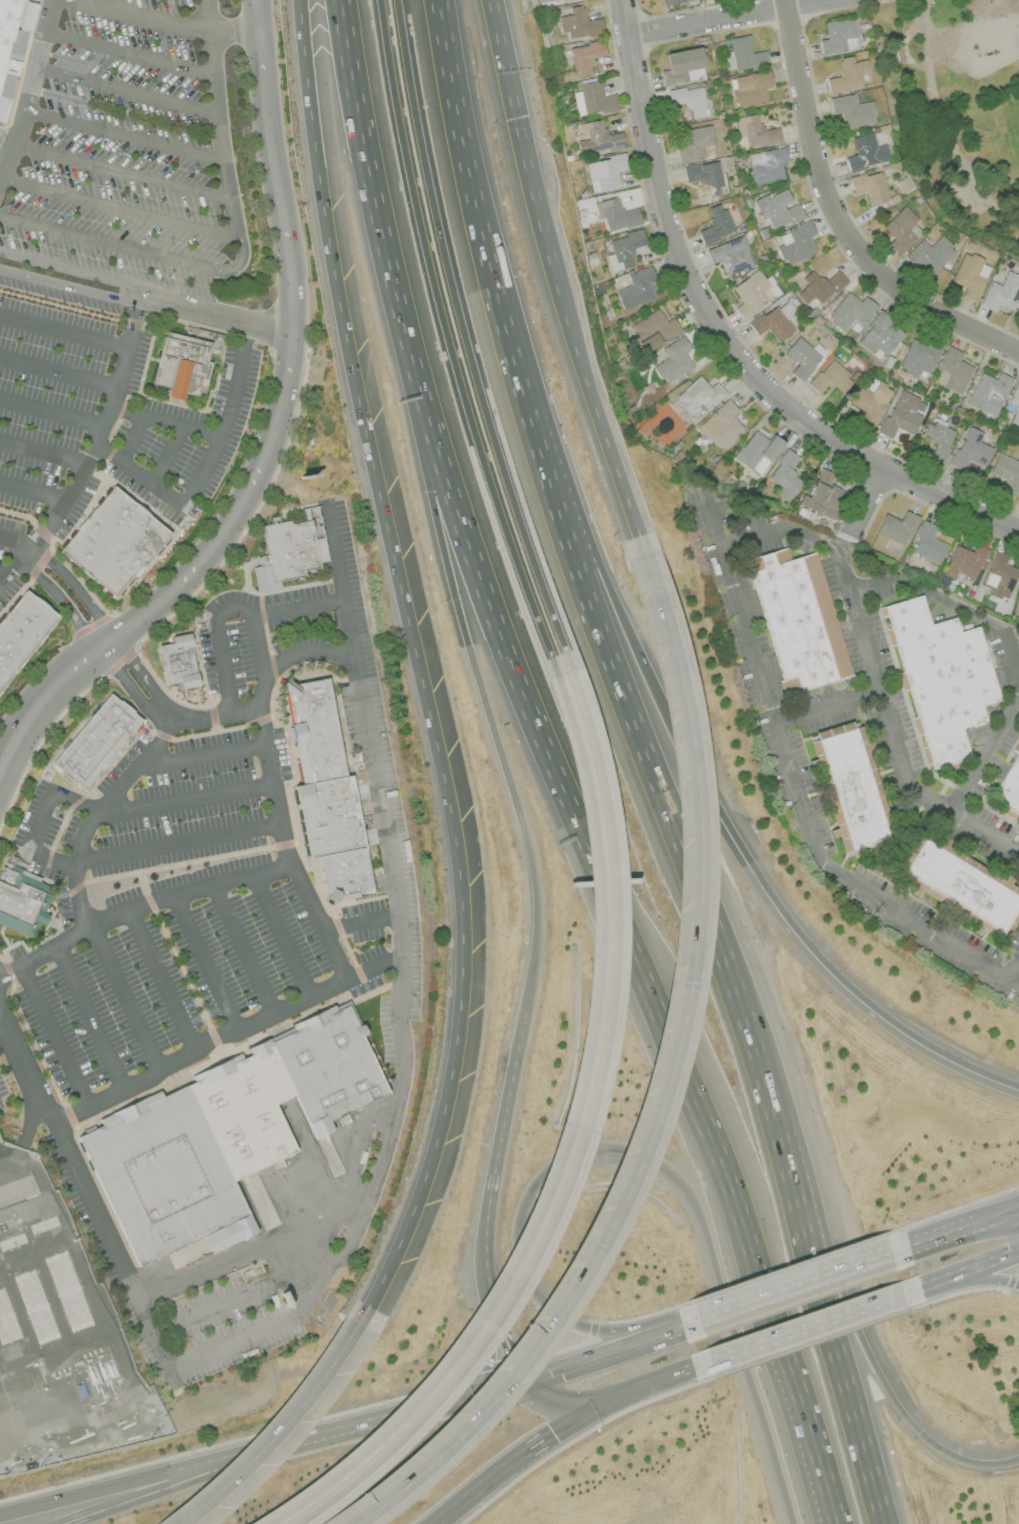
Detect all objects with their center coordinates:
building: (558, 0)
building: (672, 1)
road: (725, 17)
road: (170, 20)
building: (6, 24)
building: (578, 24)
road: (971, 28)
building: (838, 36)
road: (121, 52)
building: (745, 53)
building: (585, 56)
building: (682, 66)
road: (18, 74)
building: (847, 74)
building: (749, 88)
road: (119, 89)
building: (592, 99)
building: (688, 99)
road: (5, 105)
park: (956, 109)
building: (851, 111)
road: (217, 119)
road: (944, 127)
road: (523, 130)
building: (755, 131)
road: (116, 134)
building: (598, 137)
building: (692, 142)
building: (865, 152)
building: (766, 165)
road: (115, 172)
building: (604, 172)
building: (704, 177)
road: (373, 184)
building: (869, 187)
road: (119, 207)
building: (778, 208)
building: (615, 214)
road: (837, 222)
building: (715, 224)
building: (901, 230)
building: (796, 243)
building: (625, 247)
road: (133, 250)
building: (928, 254)
building: (730, 255)
road: (72, 270)
building: (969, 276)
road: (70, 286)
building: (819, 286)
building: (636, 288)
building: (753, 293)
building: (1001, 293)
road: (76, 309)
building: (850, 311)
road: (216, 316)
building: (774, 321)
road: (464, 328)
road: (64, 329)
building: (653, 329)
road: (447, 331)
building: (878, 335)
road: (725, 339)
road: (513, 353)
building: (918, 355)
road: (290, 357)
building: (803, 357)
building: (671, 360)
building: (185, 365)
building: (951, 371)
road: (58, 372)
building: (830, 377)
building: (988, 392)
building: (698, 395)
building: (869, 401)
road: (594, 402)
road: (53, 411)
building: (900, 414)
building: (720, 425)
road: (111, 433)
road: (217, 434)
road: (131, 437)
building: (937, 440)
building: (969, 449)
road: (44, 451)
road: (93, 451)
building: (757, 451)
road: (166, 456)
building: (1006, 473)
building: (784, 475)
road: (450, 482)
road: (35, 490)
road: (167, 498)
road: (866, 498)
road: (716, 527)
building: (896, 527)
road: (593, 536)
road: (51, 540)
building: (113, 542)
building: (927, 543)
road: (17, 544)
building: (296, 554)
road: (335, 556)
building: (964, 561)
building: (998, 576)
road: (76, 591)
building: (1018, 602)
road: (61, 604)
building: (798, 619)
road: (219, 631)
building: (22, 637)
road: (751, 642)
road: (304, 654)
road: (417, 656)
building: (179, 665)
road: (143, 677)
building: (940, 677)
road: (130, 689)
road: (483, 689)
road: (42, 701)
road: (830, 709)
road: (244, 710)
building: (98, 744)
road: (984, 750)
road: (898, 753)
road: (203, 755)
building: (1009, 786)
building: (849, 787)
building: (334, 797)
road: (182, 799)
road: (275, 807)
road: (39, 824)
road: (176, 846)
building: (960, 887)
road: (186, 894)
building: (19, 904)
road: (361, 925)
road: (283, 938)
road: (244, 953)
parking lot: (177, 965)
road: (207, 967)
road: (11, 970)
road: (829, 972)
road: (1, 973)
road: (641, 973)
road: (1, 976)
road: (163, 985)
road: (126, 1001)
road: (90, 1018)
road: (3, 1022)
road: (53, 1037)
road: (227, 1041)
road: (666, 1084)
road: (509, 1093)
building: (1, 1105)
road: (768, 1105)
road: (24, 1131)
road: (587, 1134)
building: (225, 1135)
road: (568, 1141)
road: (645, 1157)
road: (1000, 1211)
traffic signals: (981, 1219)
road: (1000, 1220)
road: (486, 1231)
road: (937, 1234)
road: (249, 1250)
road: (962, 1271)
road: (962, 1280)
road: (798, 1284)
road: (847, 1294)
road: (248, 1295)
road: (810, 1325)
road: (502, 1337)
road: (243, 1343)
road: (615, 1350)
road: (658, 1379)
traffic signals: (528, 1381)
road: (562, 1401)
traffic signals: (603, 1401)
road: (438, 1409)
road: (285, 1422)
building: (142, 1423)
road: (815, 1438)
road: (296, 1444)
road: (517, 1458)
road: (122, 1484)
road: (156, 1491)

